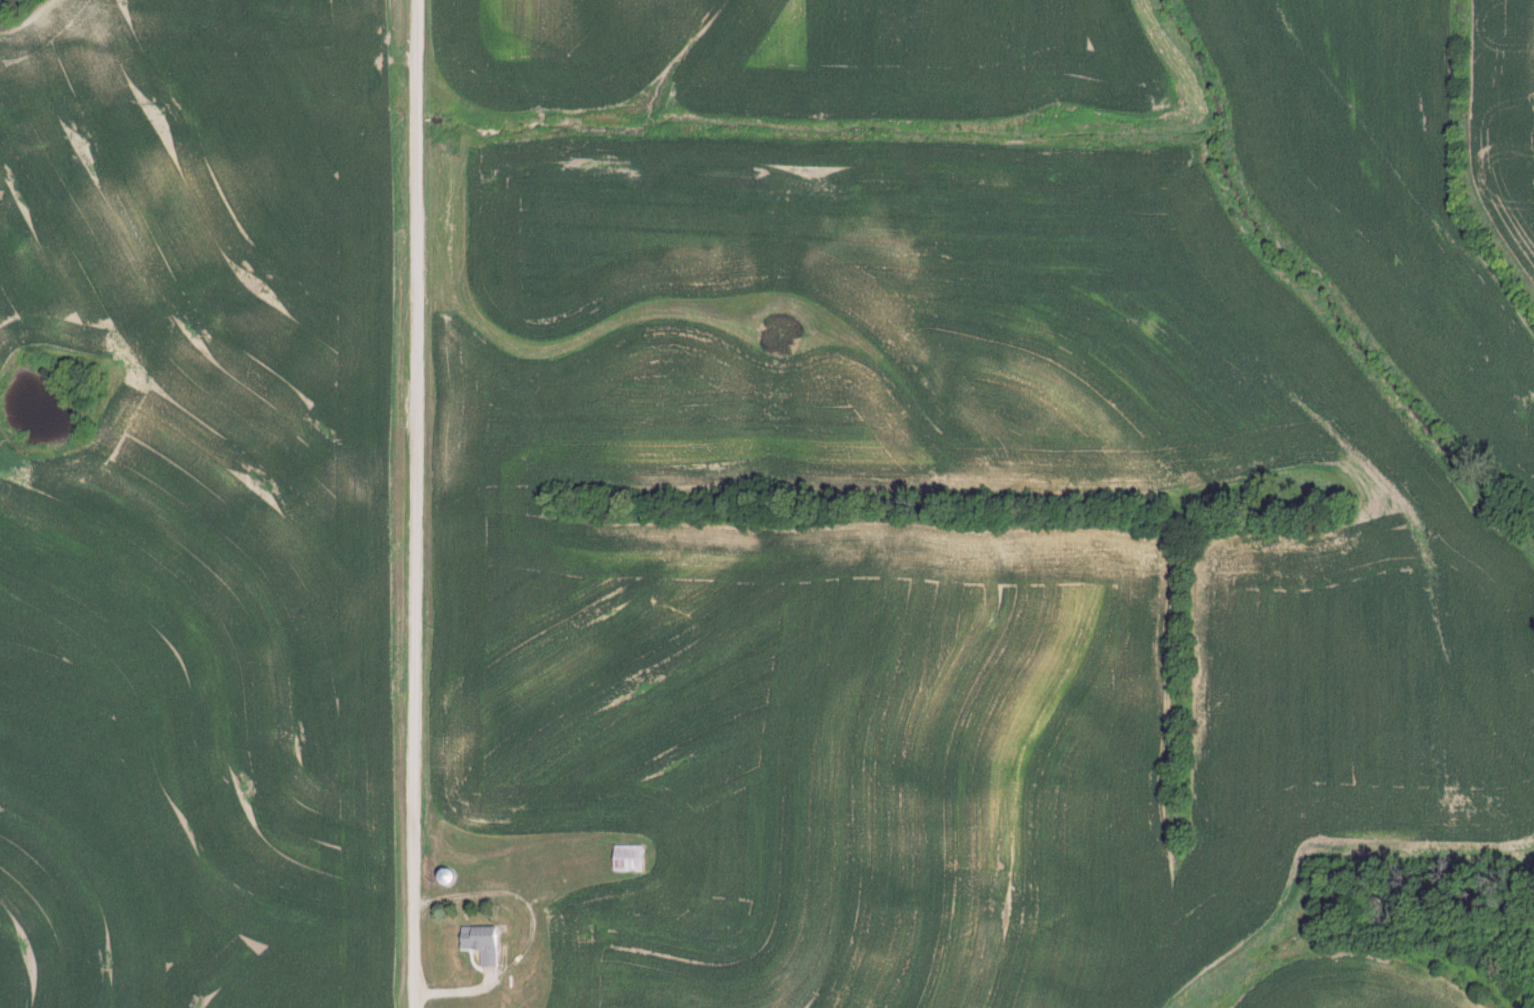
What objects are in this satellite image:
road: (411, 504)
building: (624, 858)
building: (479, 943)

